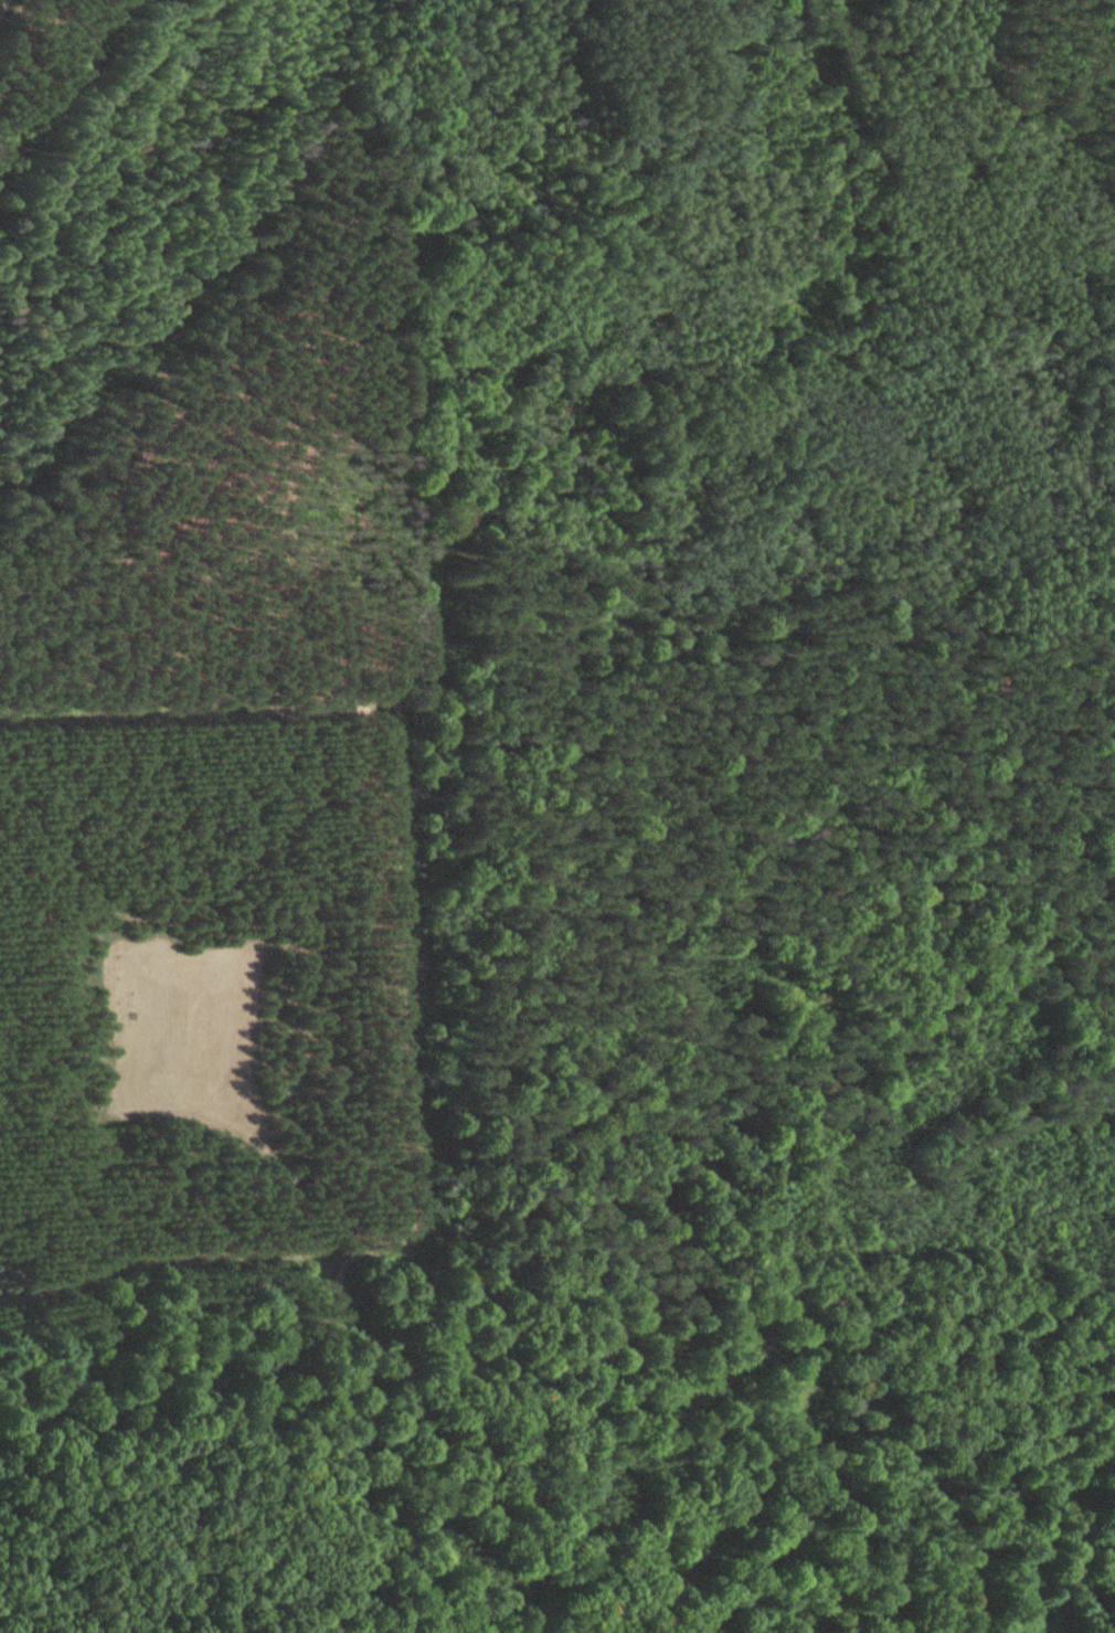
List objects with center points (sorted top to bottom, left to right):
road: (399, 824)
road: (172, 1261)
road: (353, 1455)

